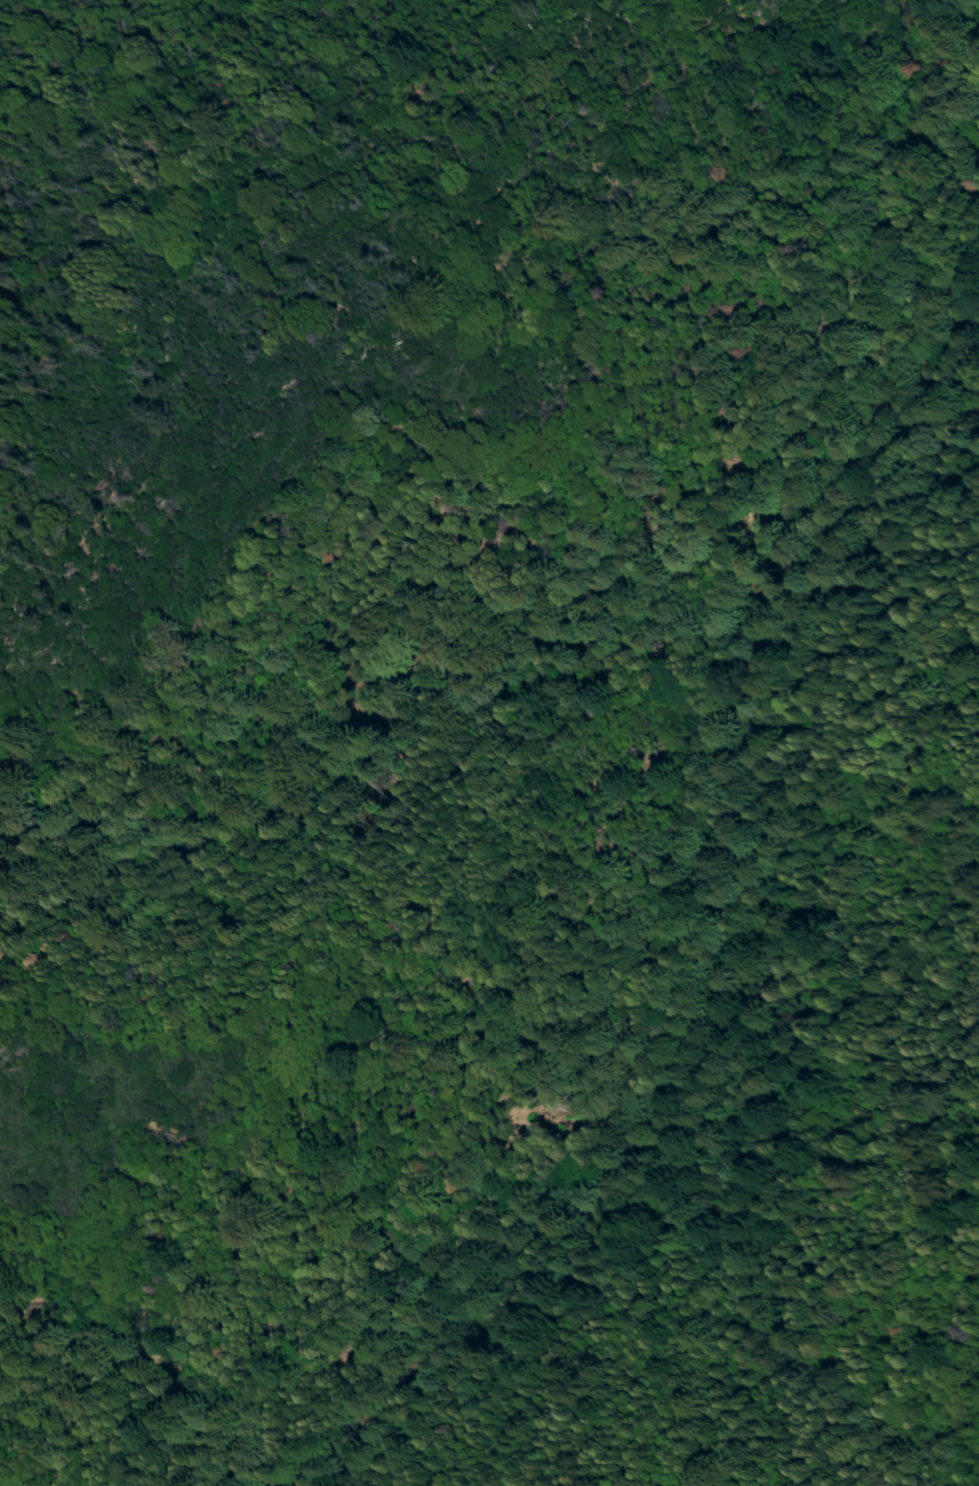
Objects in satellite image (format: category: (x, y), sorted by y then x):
road: (966, 48)

